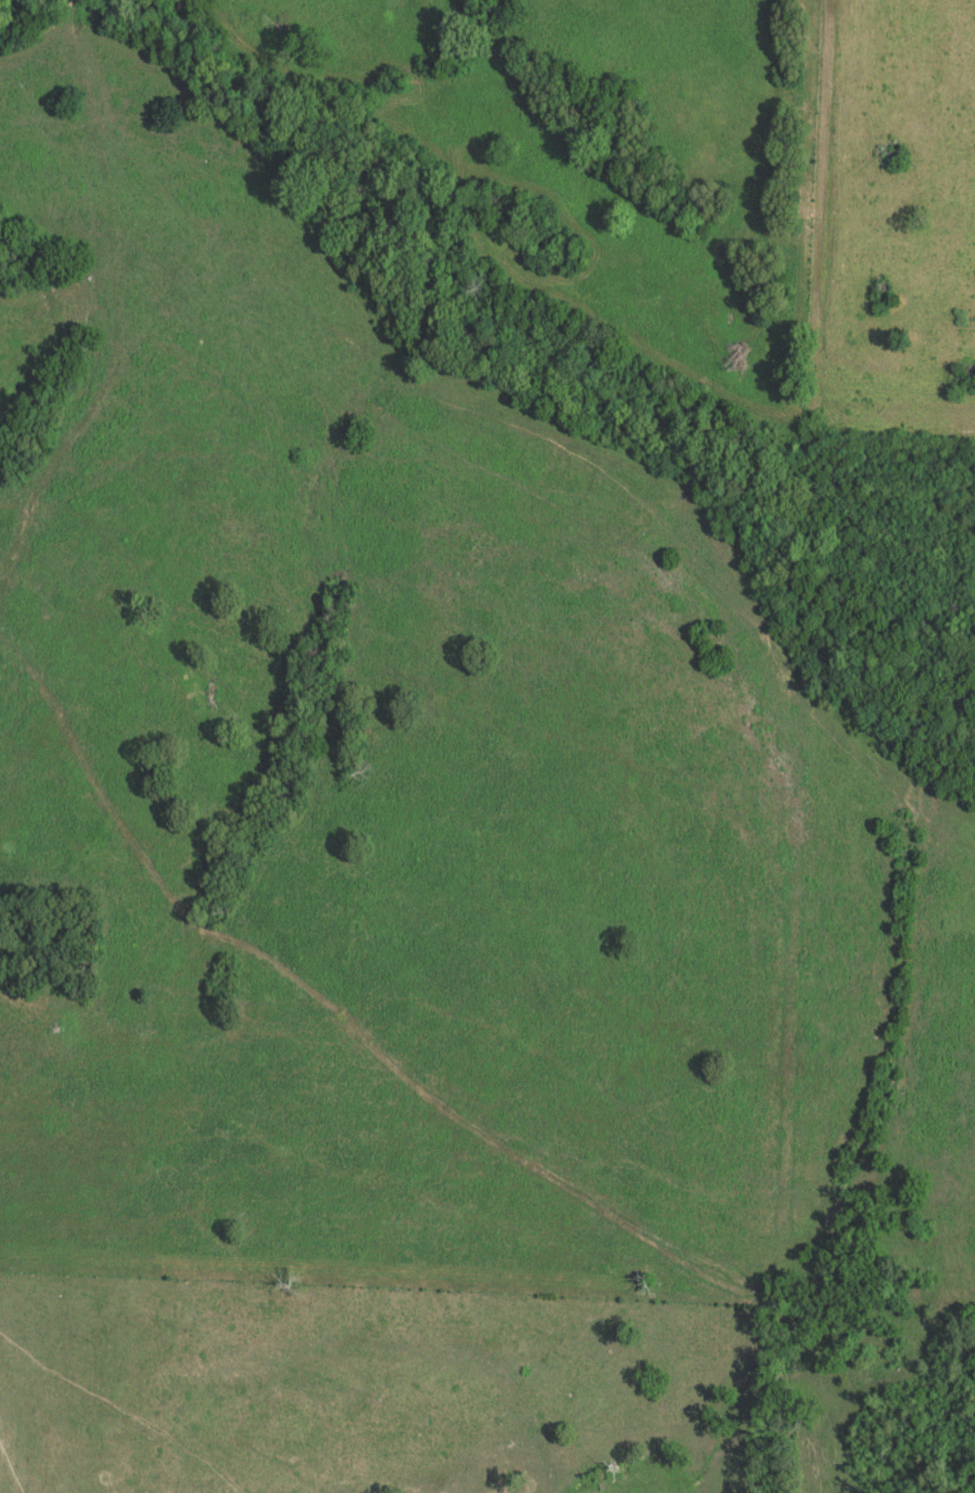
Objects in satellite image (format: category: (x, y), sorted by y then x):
park: (51, 948)
road: (187, 1077)

